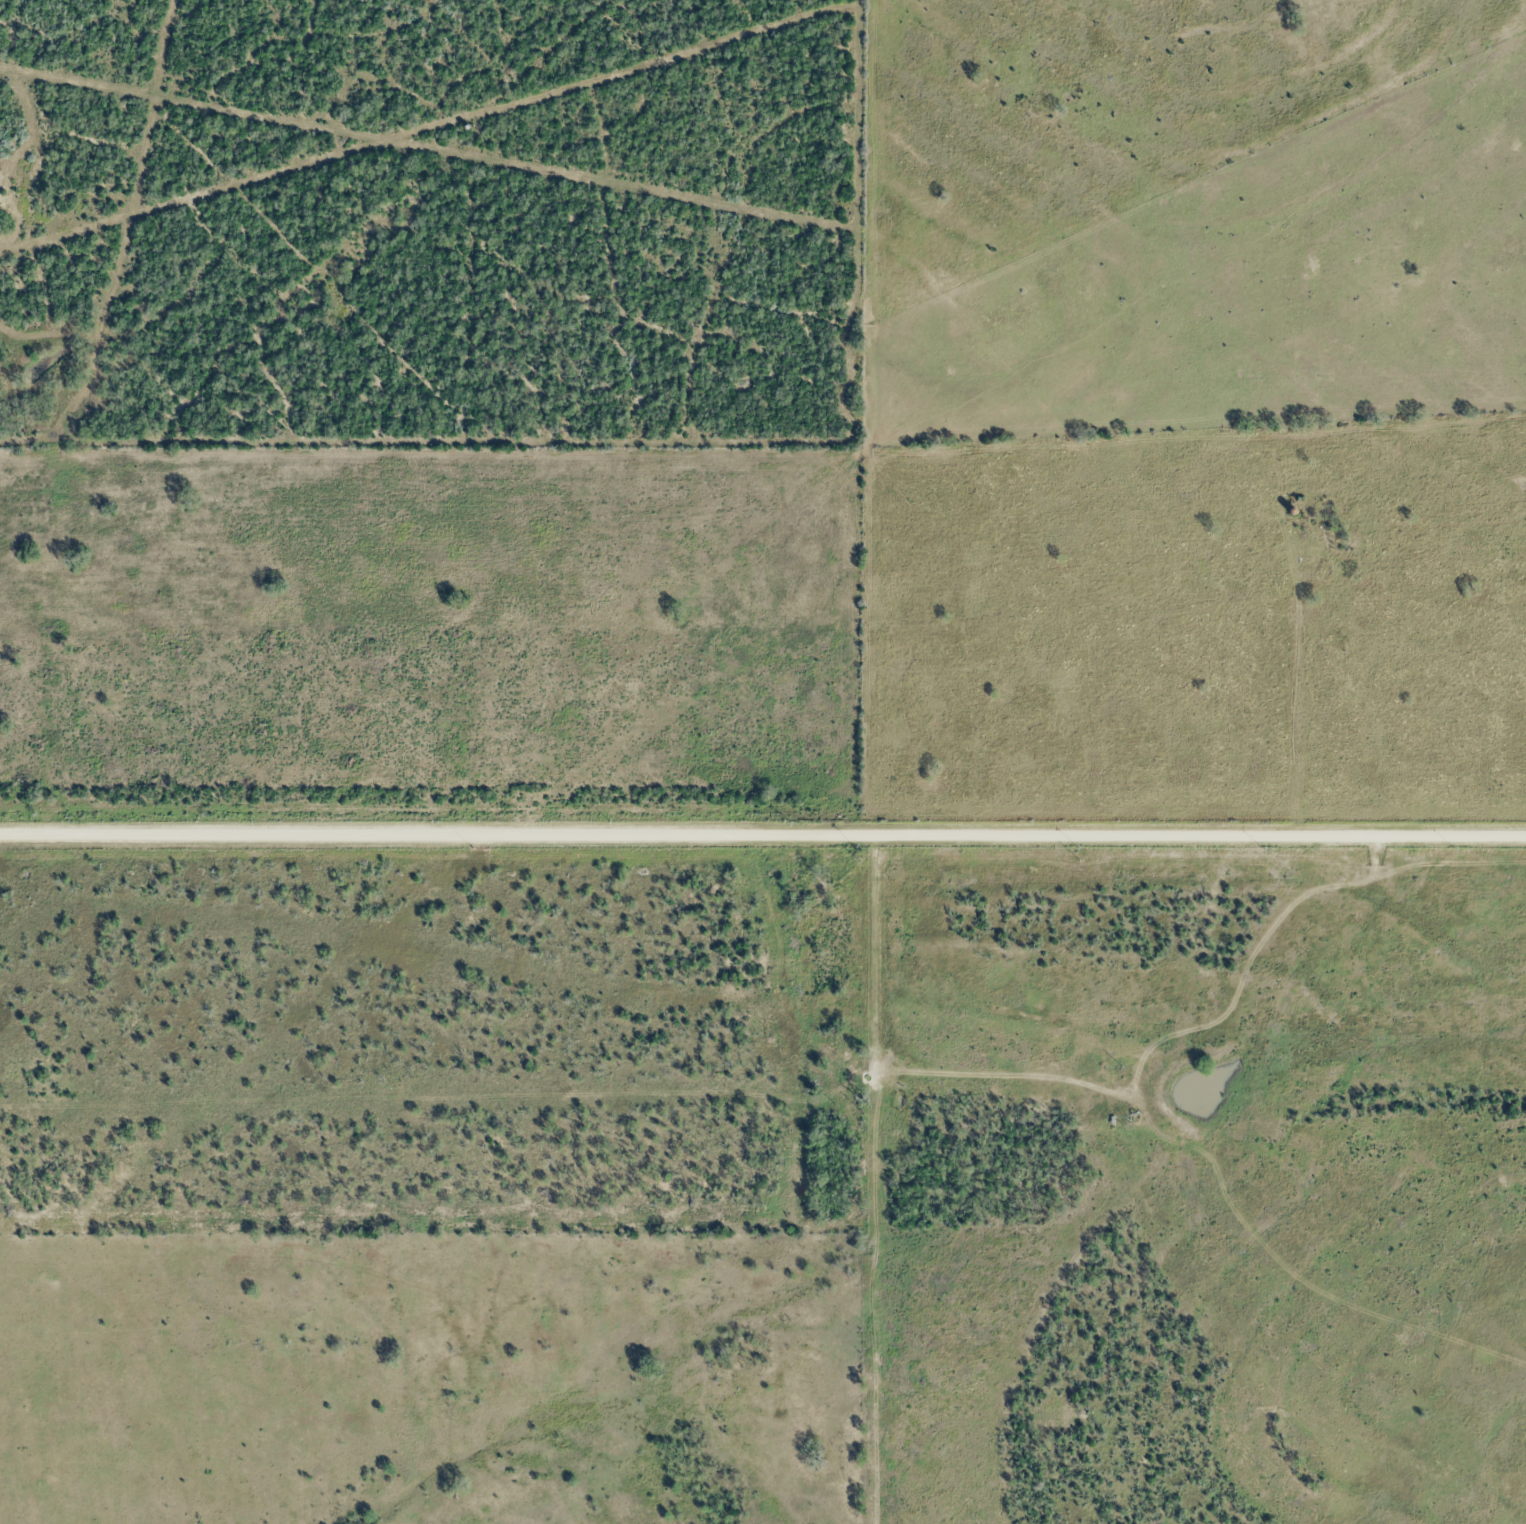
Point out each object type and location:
road: (762, 832)

